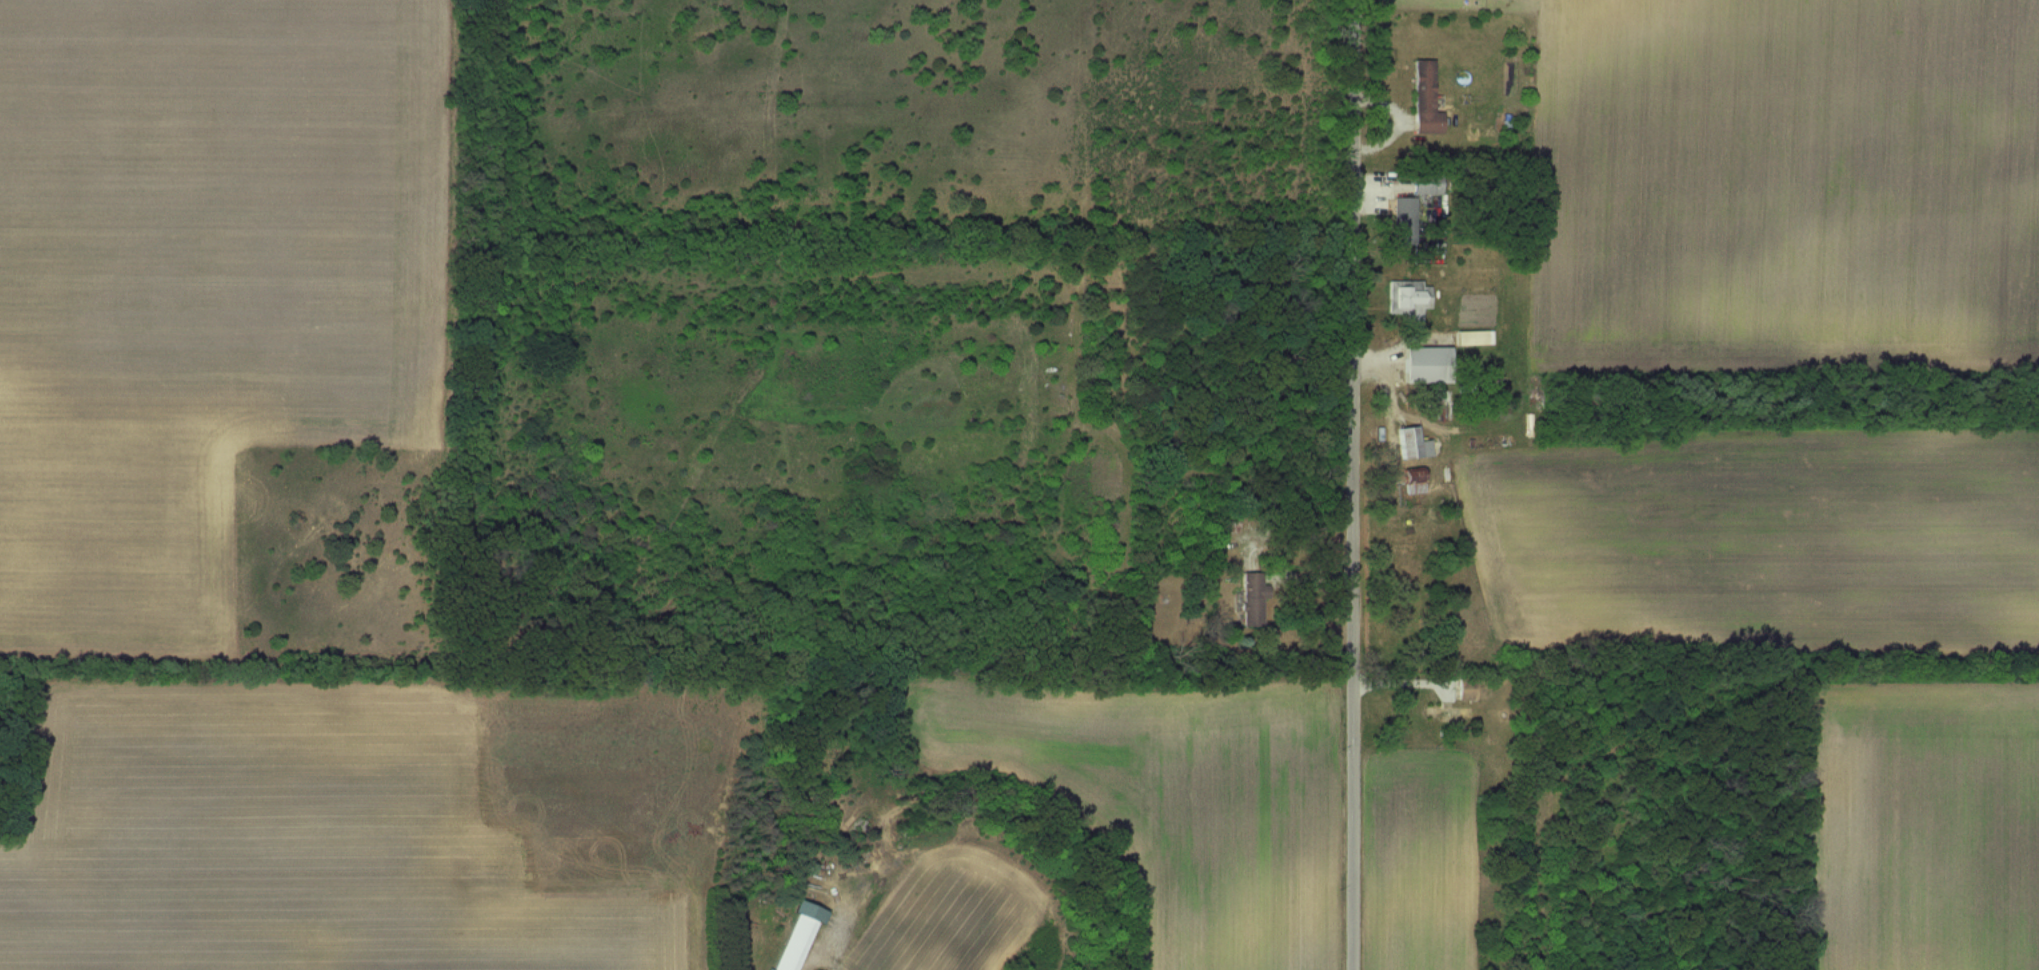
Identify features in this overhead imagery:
building: (1427, 99)
building: (1406, 221)
building: (1410, 301)
building: (1473, 338)
building: (1429, 365)
building: (1415, 443)
building: (1416, 482)
road: (1358, 485)
building: (800, 939)

